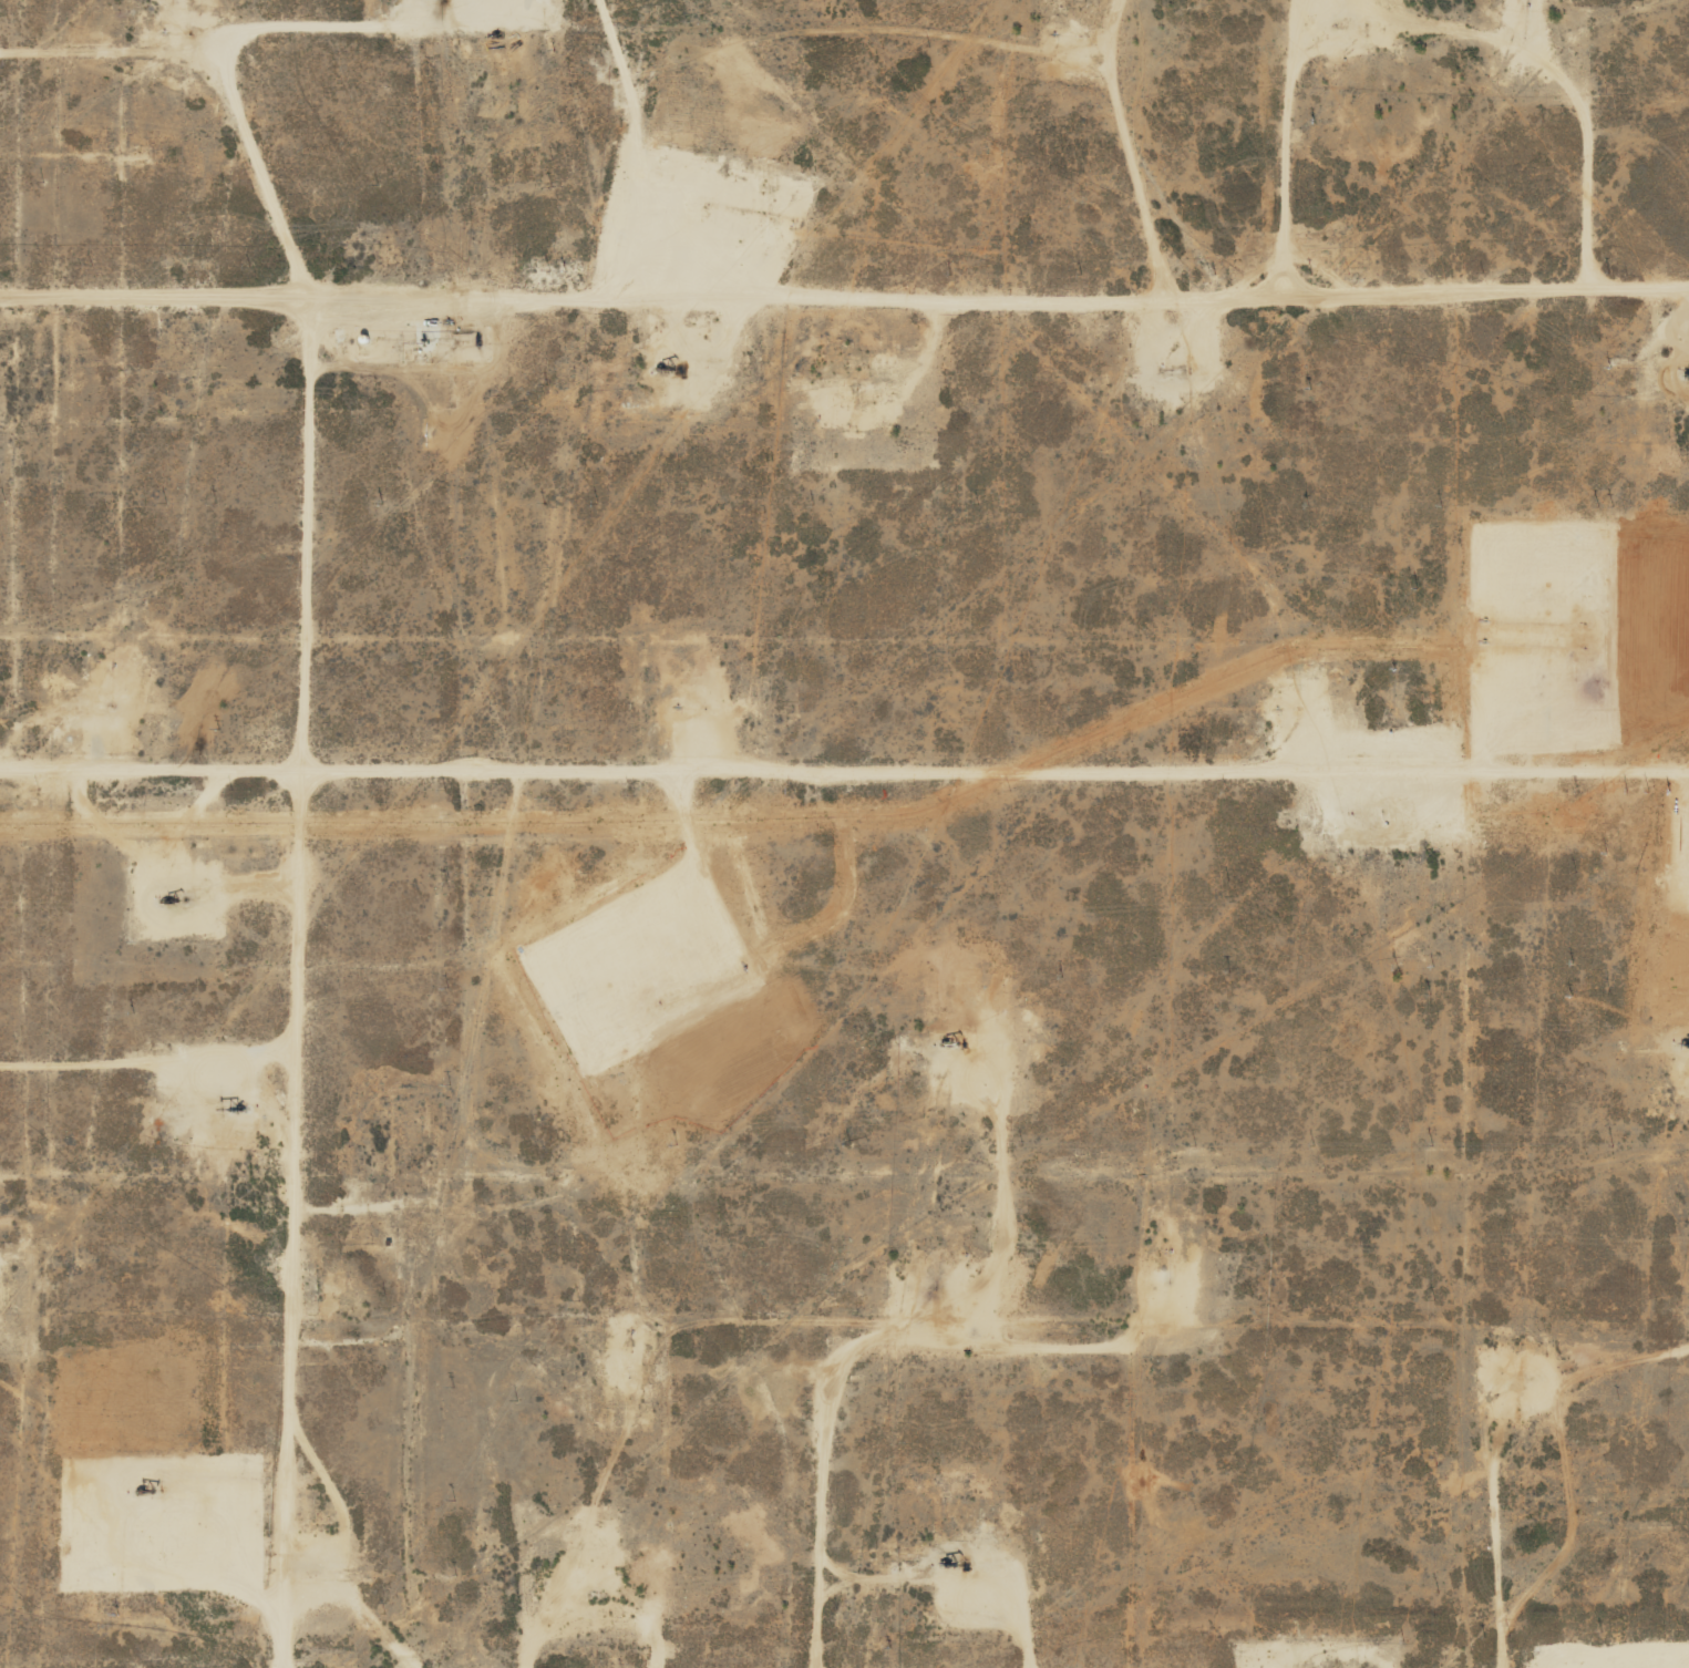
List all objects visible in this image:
road: (844, 264)
road: (316, 747)
road: (844, 758)
road: (1156, 1326)

